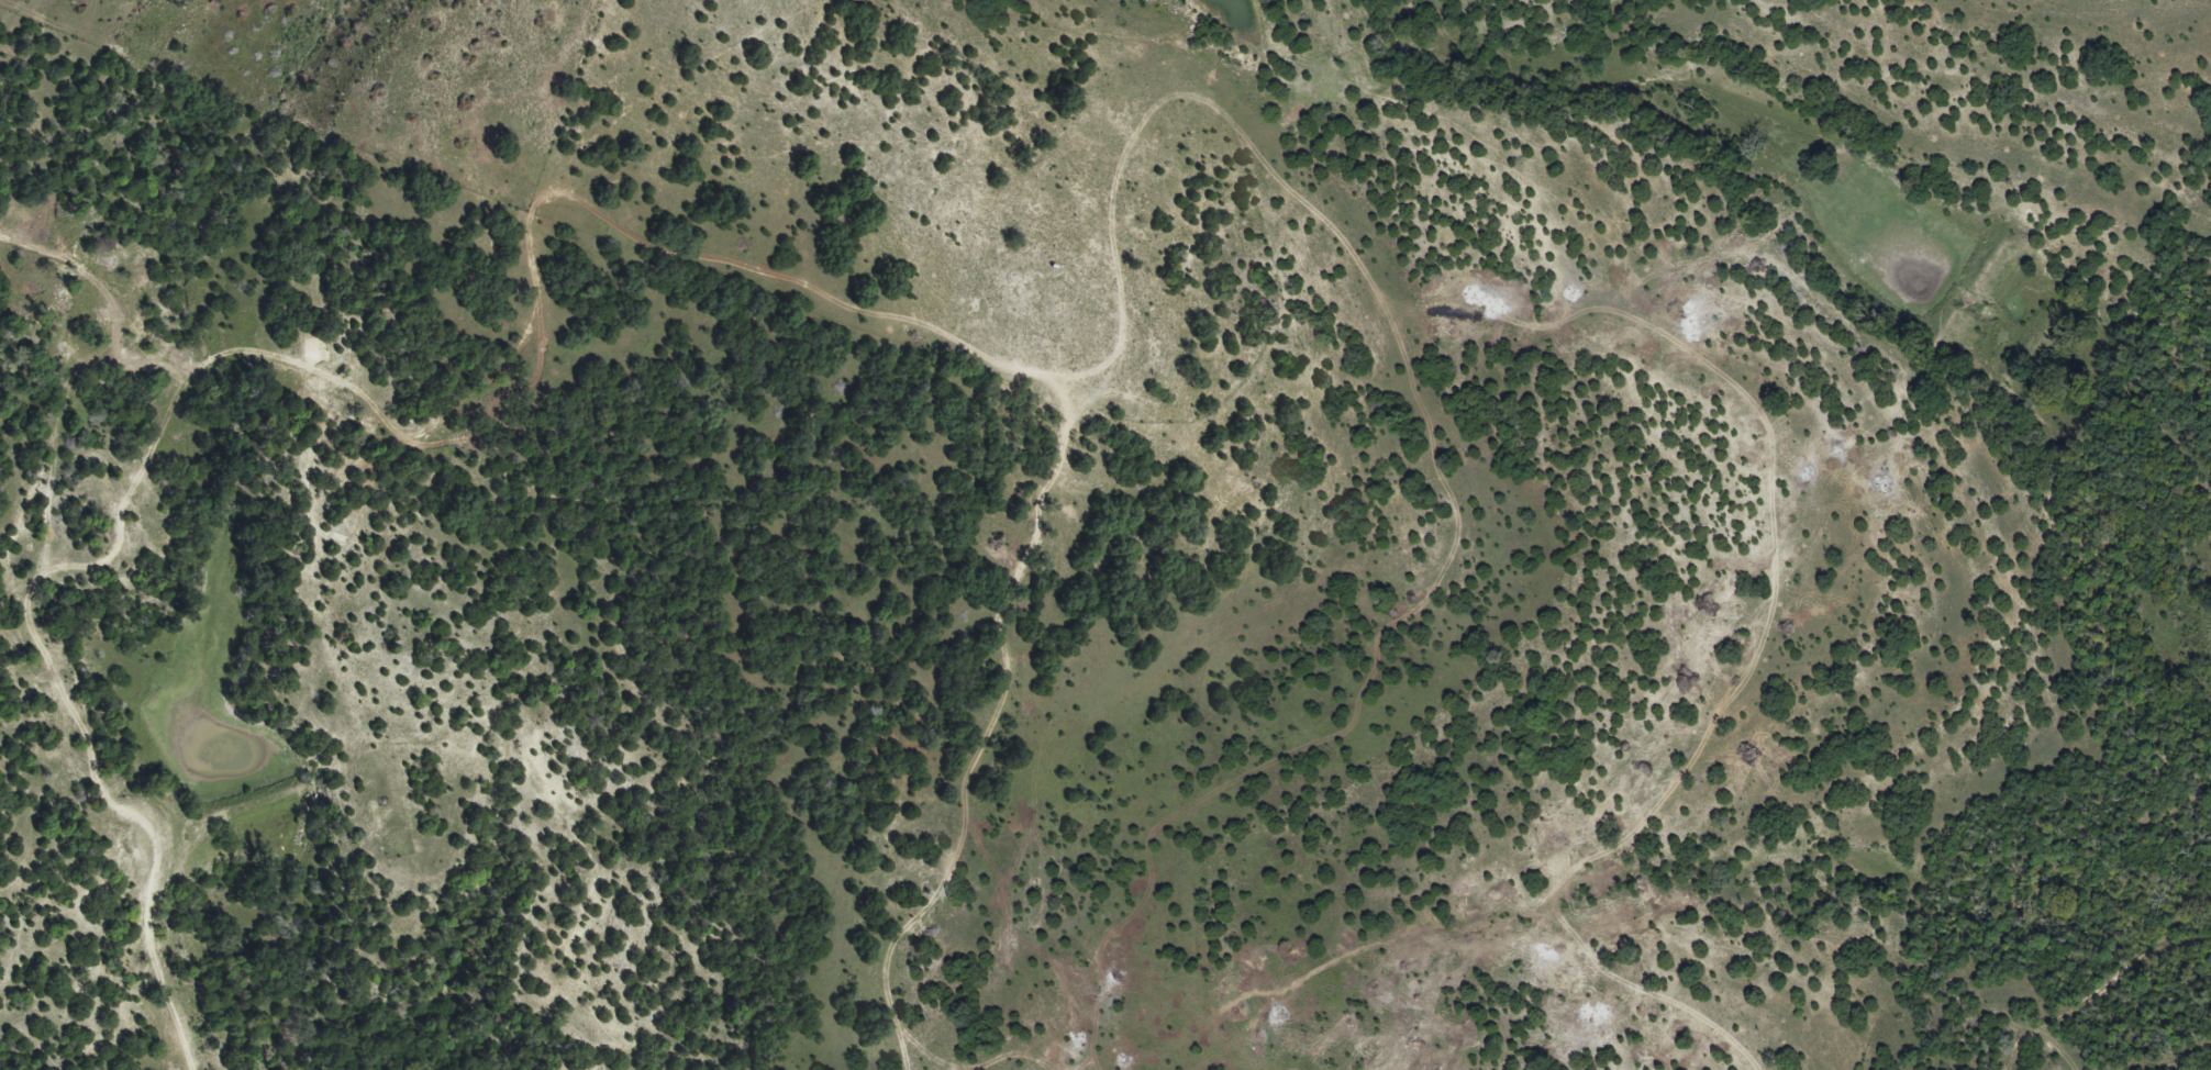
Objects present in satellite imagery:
road: (1314, 255)

